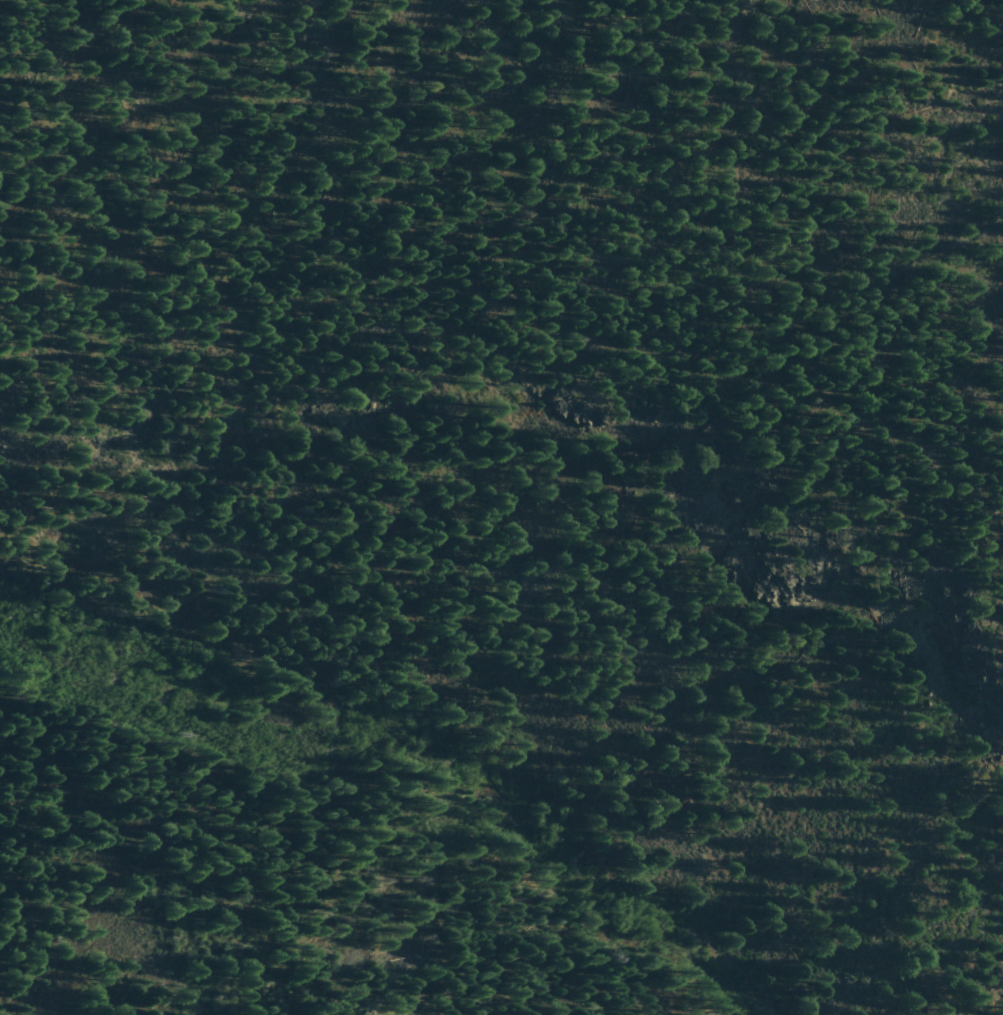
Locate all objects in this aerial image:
road: (131, 588)
road: (614, 718)

